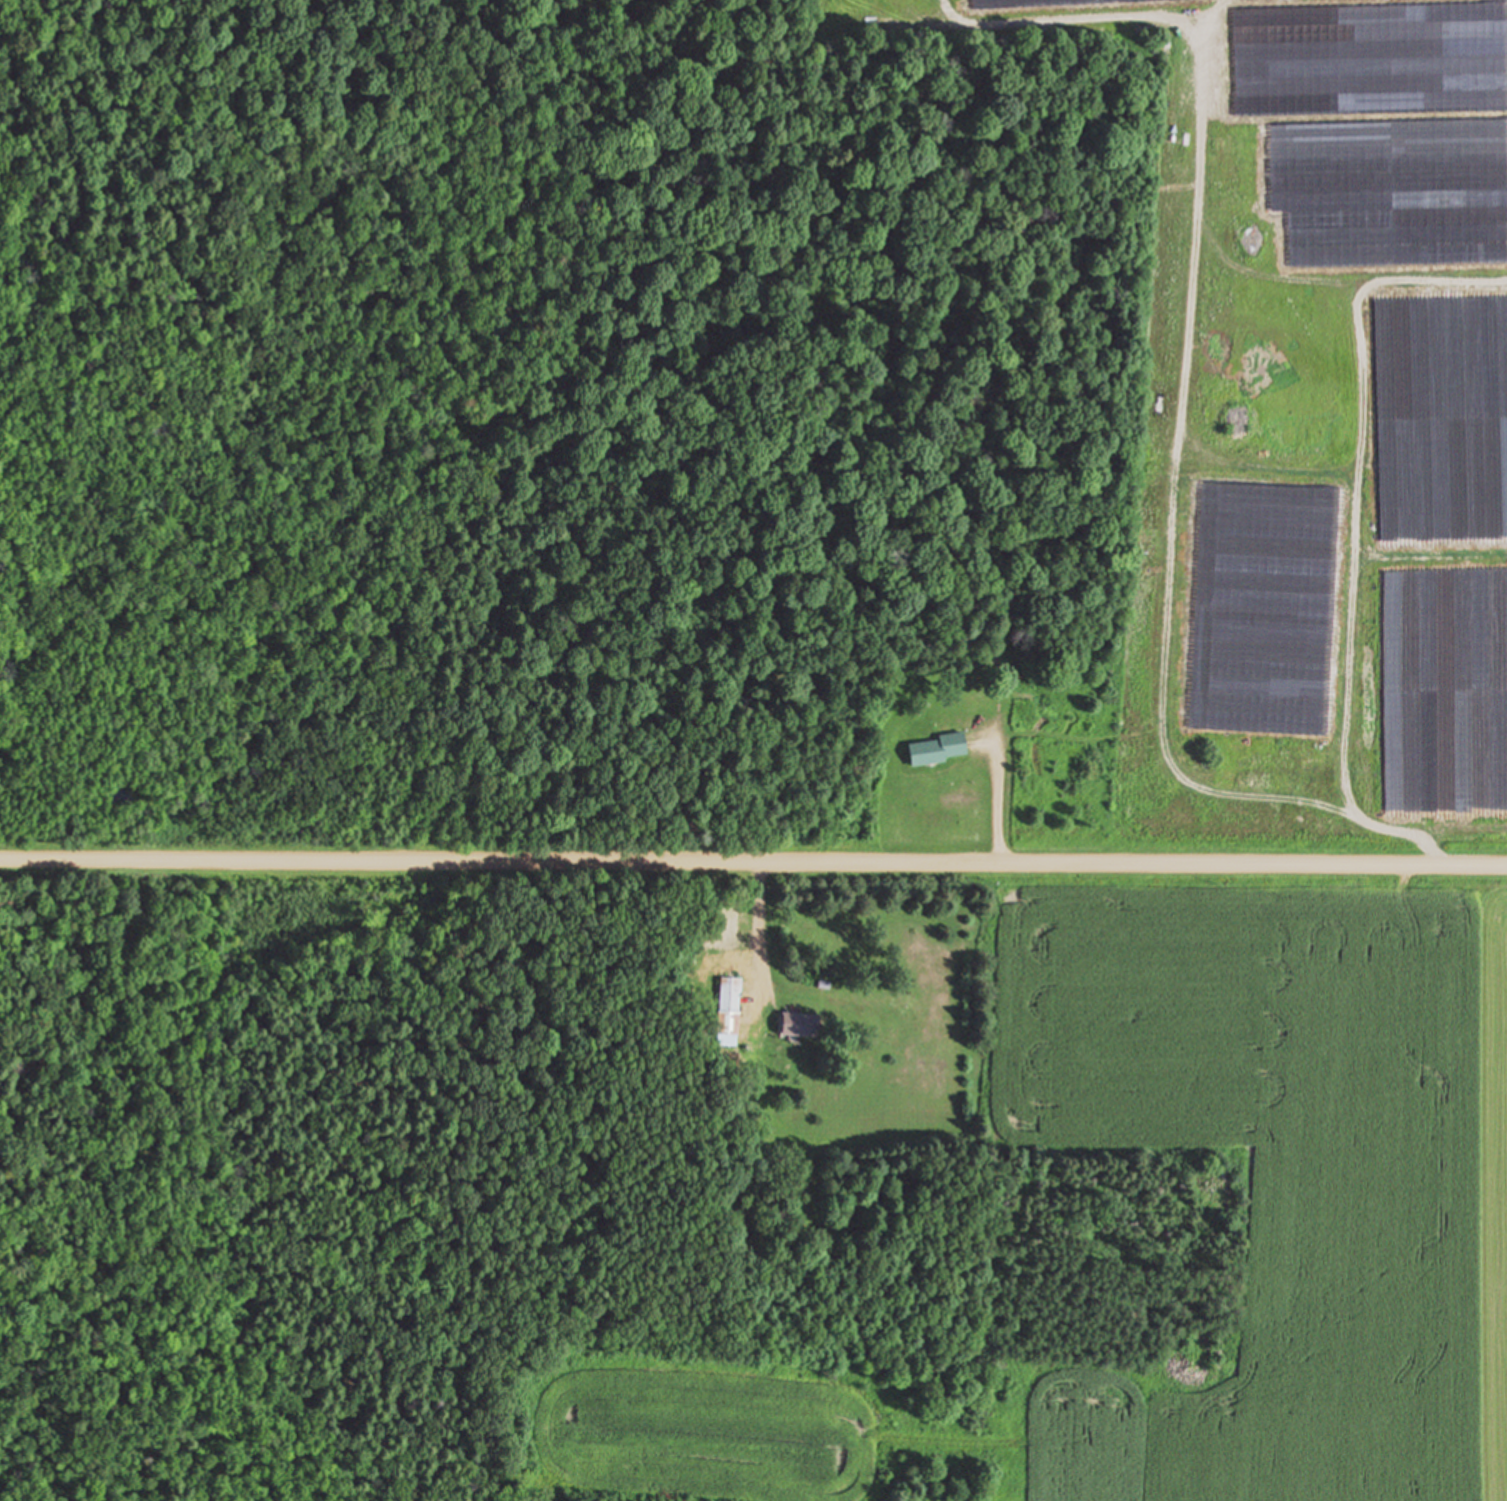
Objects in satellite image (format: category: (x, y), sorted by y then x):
building: (933, 750)
road: (753, 861)
building: (726, 1013)
river: (150, 1106)

